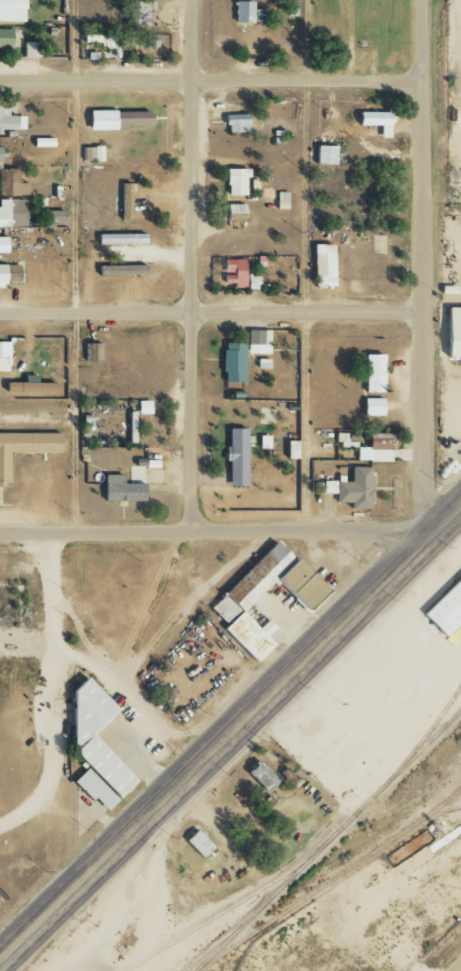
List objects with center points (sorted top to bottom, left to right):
building: (11, 10)
building: (242, 12)
building: (143, 13)
road: (456, 15)
road: (459, 33)
building: (4, 38)
building: (140, 42)
building: (30, 49)
road: (211, 82)
road: (455, 101)
building: (116, 119)
building: (10, 121)
building: (374, 121)
building: (235, 123)
building: (91, 153)
building: (323, 155)
building: (234, 182)
building: (10, 184)
building: (280, 200)
building: (124, 202)
building: (233, 212)
building: (11, 213)
building: (53, 216)
building: (119, 239)
building: (2, 245)
road: (458, 258)
road: (191, 265)
road: (306, 265)
building: (322, 265)
road: (422, 268)
building: (121, 270)
building: (235, 271)
building: (8, 274)
building: (227, 276)
building: (251, 281)
road: (452, 309)
road: (211, 313)
road: (75, 321)
building: (451, 334)
building: (257, 342)
building: (93, 352)
building: (3, 356)
road: (451, 359)
building: (232, 363)
building: (372, 373)
building: (29, 387)
road: (452, 396)
building: (372, 407)
building: (142, 408)
building: (132, 427)
building: (262, 442)
building: (24, 447)
building: (376, 448)
building: (289, 450)
building: (235, 457)
building: (328, 487)
building: (355, 489)
building: (120, 490)
road: (211, 531)
building: (232, 602)
building: (445, 609)
road: (84, 635)
road: (229, 729)
railway: (426, 734)
building: (93, 747)
building: (260, 776)
railway: (327, 840)
building: (197, 843)
railway: (331, 880)
railway: (234, 904)
railway: (225, 935)
road: (460, 970)

